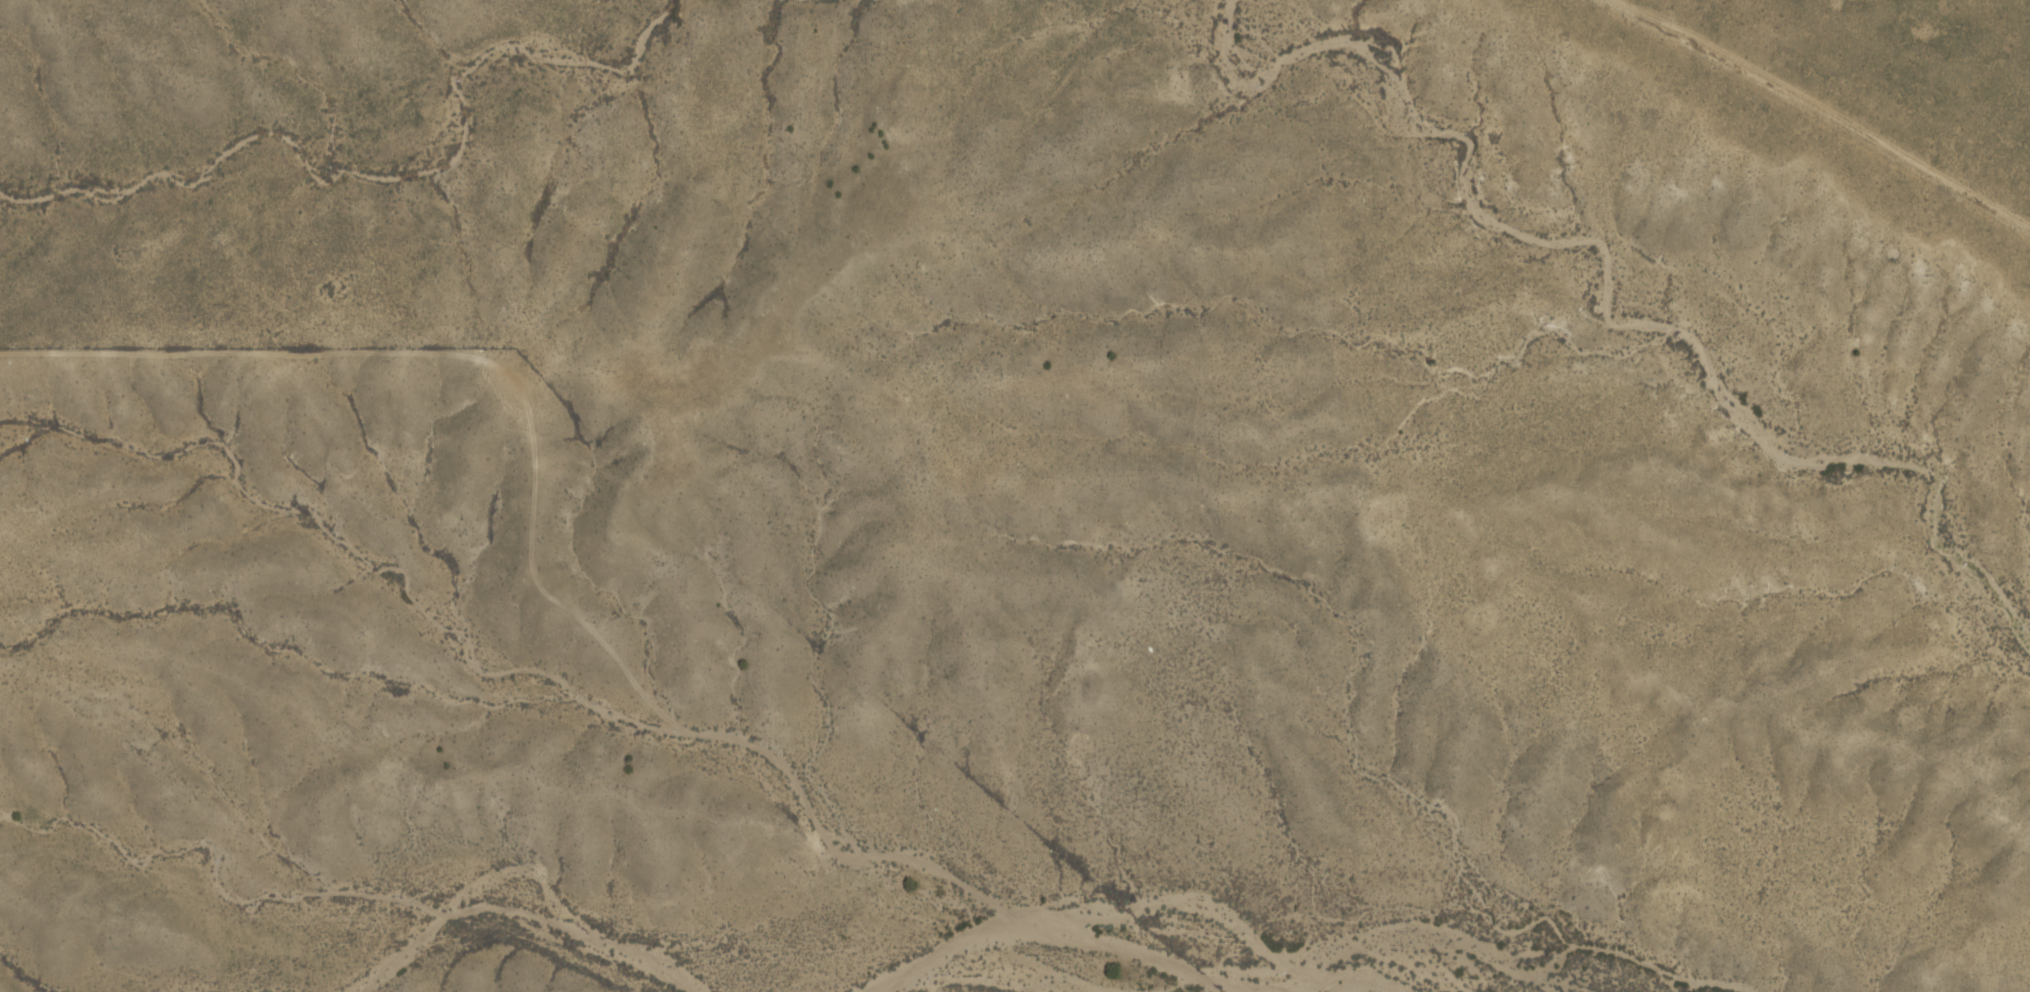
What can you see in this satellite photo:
road: (1821, 113)

